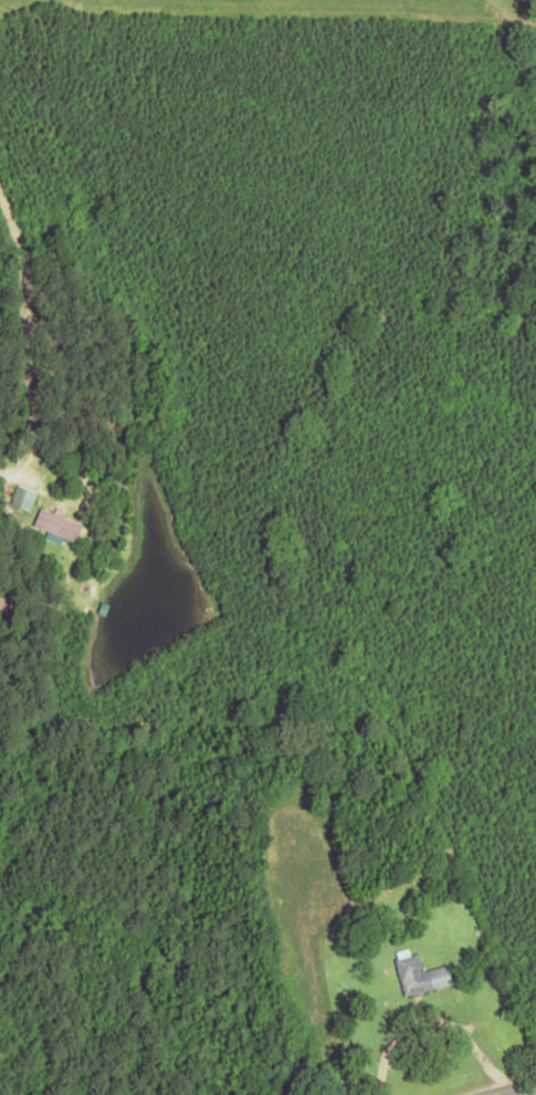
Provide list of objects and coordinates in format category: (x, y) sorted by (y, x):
building: (23, 499)
building: (57, 524)
road: (508, 1088)

